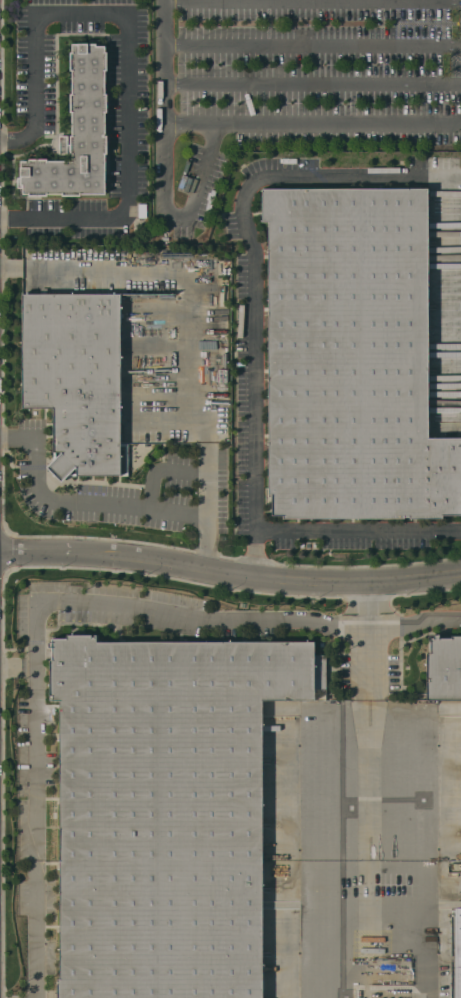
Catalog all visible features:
road: (312, 1)
road: (313, 45)
road: (128, 57)
road: (313, 83)
road: (166, 108)
road: (313, 122)
building: (79, 137)
road: (201, 180)
road: (255, 255)
road: (11, 269)
road: (175, 269)
road: (159, 312)
road: (158, 347)
building: (354, 357)
road: (157, 375)
building: (76, 378)
road: (208, 437)
road: (9, 439)
road: (88, 504)
road: (358, 531)
road: (208, 552)
road: (256, 560)
road: (230, 573)
road: (369, 597)
road: (369, 619)
road: (414, 624)
road: (34, 636)
road: (17, 667)
building: (444, 671)
building: (169, 810)
road: (342, 811)
building: (456, 952)

